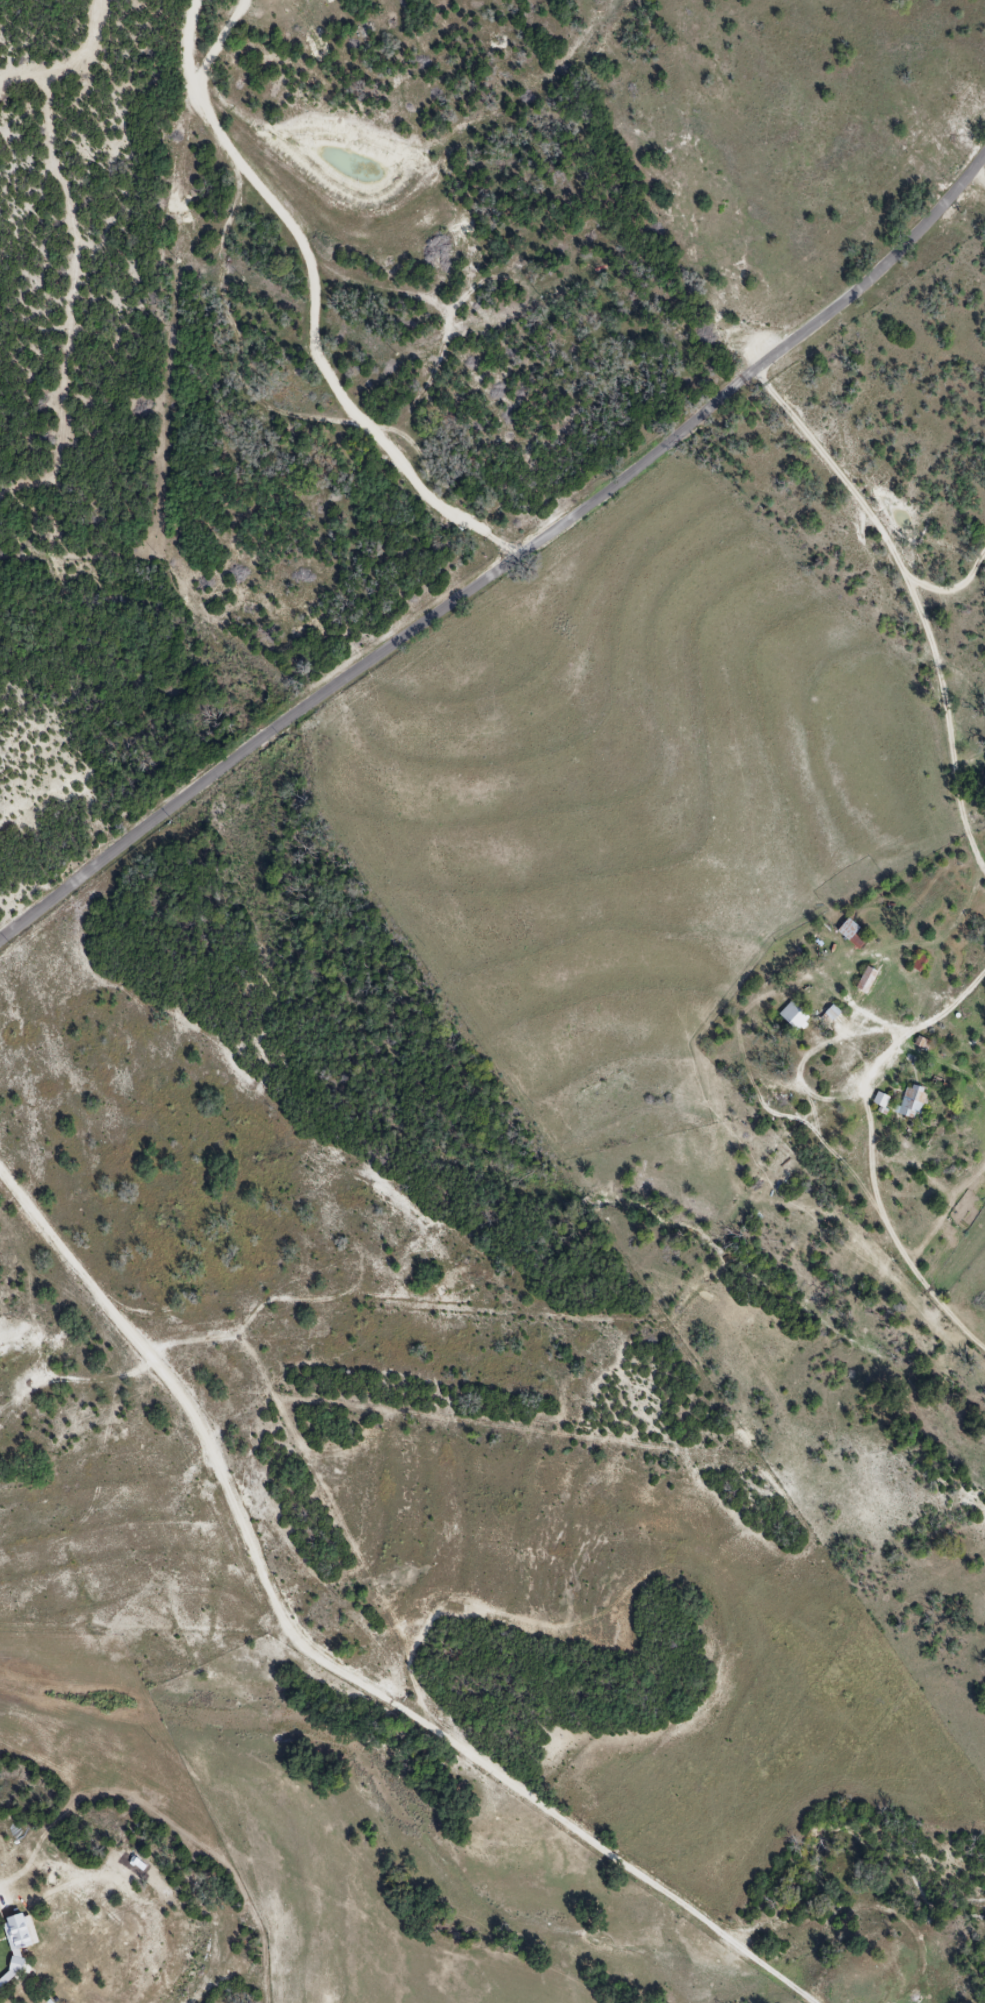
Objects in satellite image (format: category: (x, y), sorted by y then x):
road: (877, 271)
road: (324, 295)
road: (953, 587)
road: (917, 596)
road: (378, 657)
road: (972, 768)
building: (854, 935)
building: (920, 963)
building: (867, 981)
building: (794, 1017)
building: (912, 1103)
road: (874, 1149)
road: (324, 1663)

